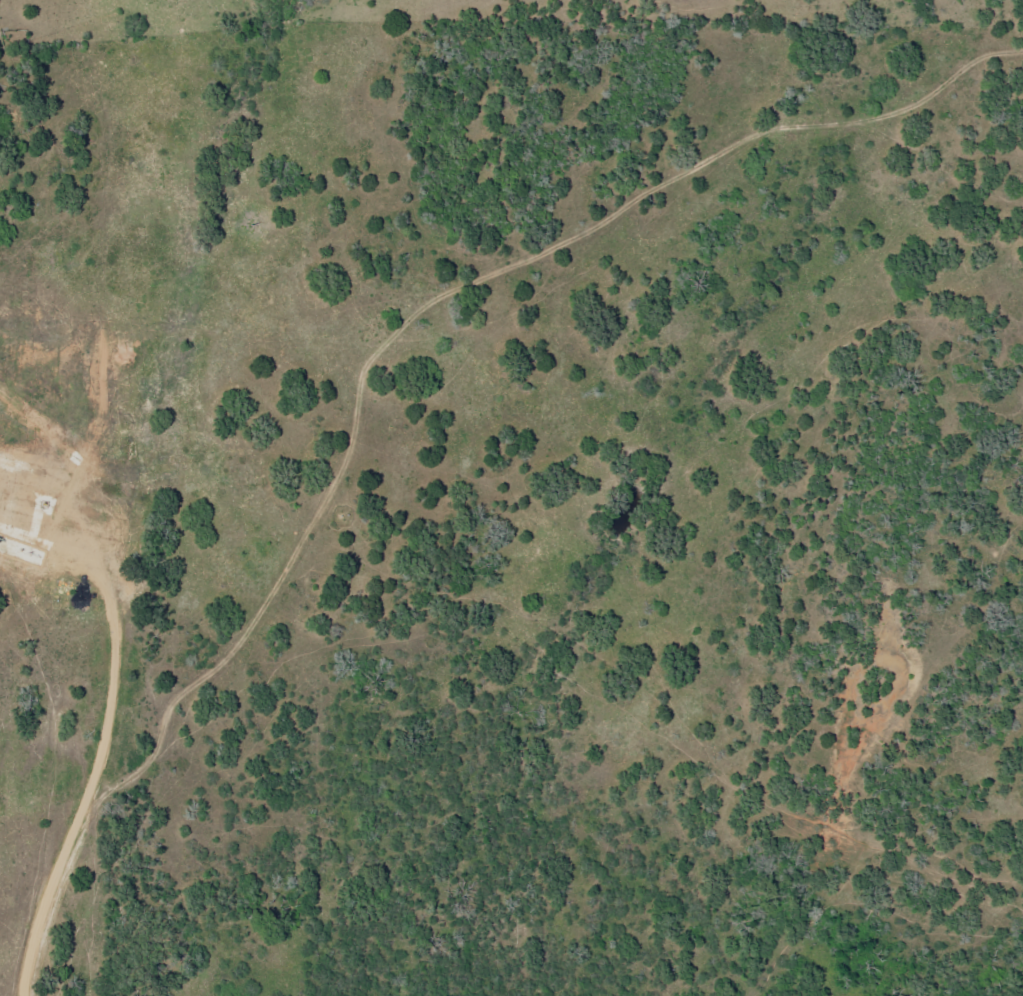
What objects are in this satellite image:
road: (892, 760)

